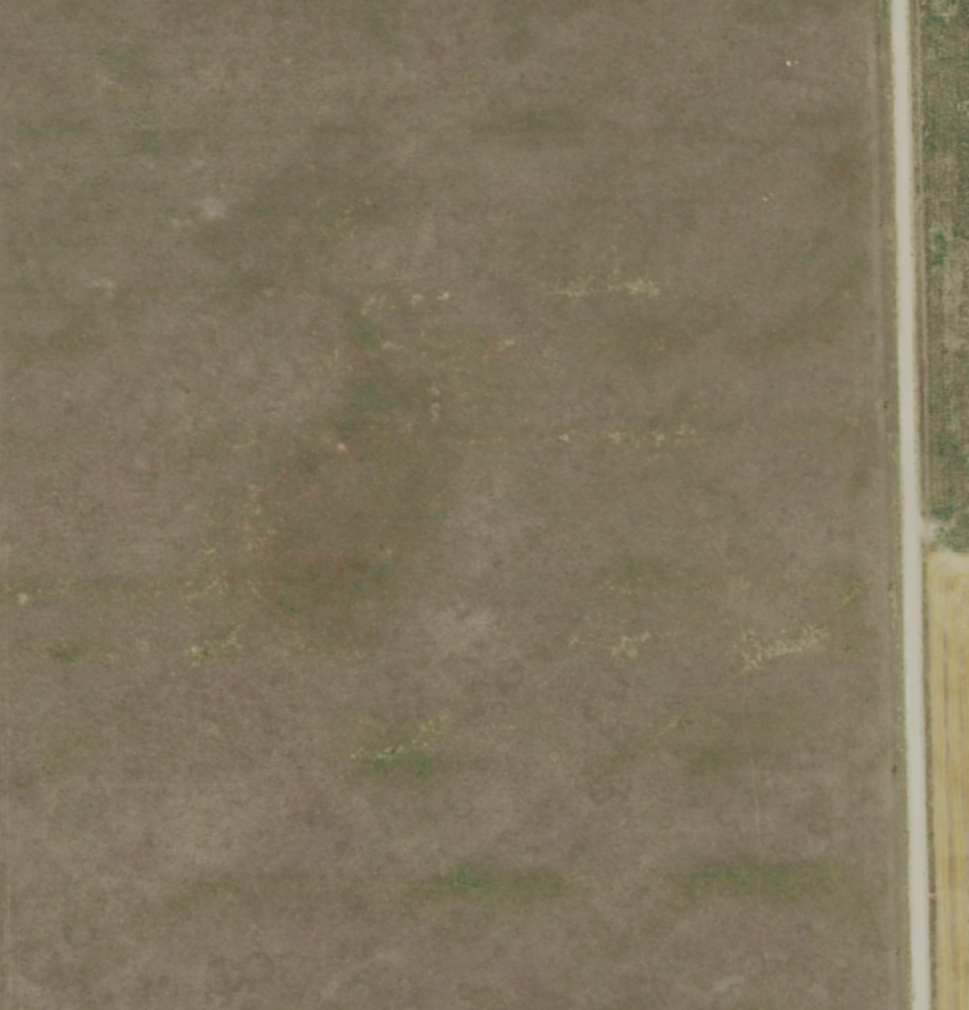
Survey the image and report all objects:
crop: (948, 466)
road: (910, 504)

